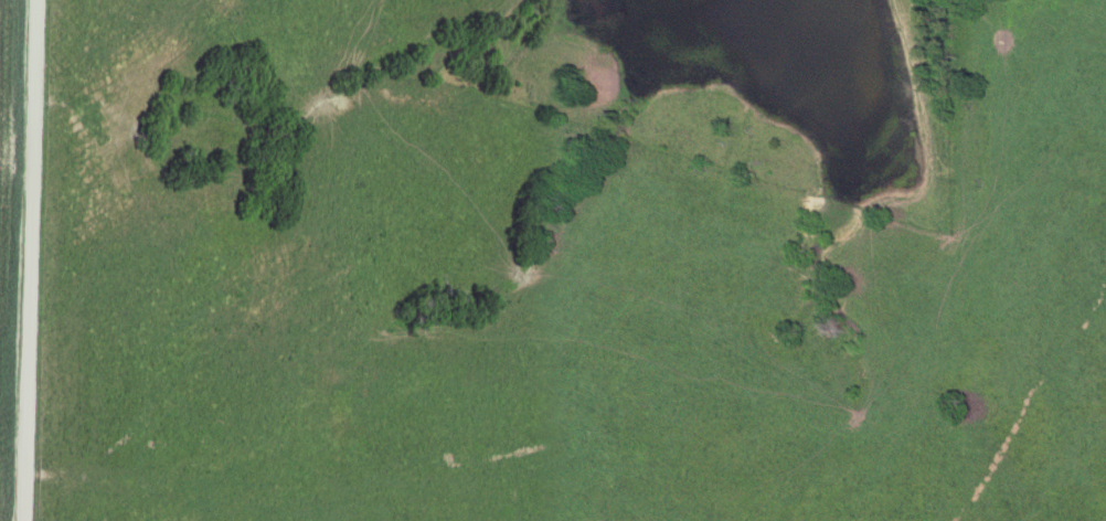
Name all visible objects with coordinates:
road: (29, 259)

